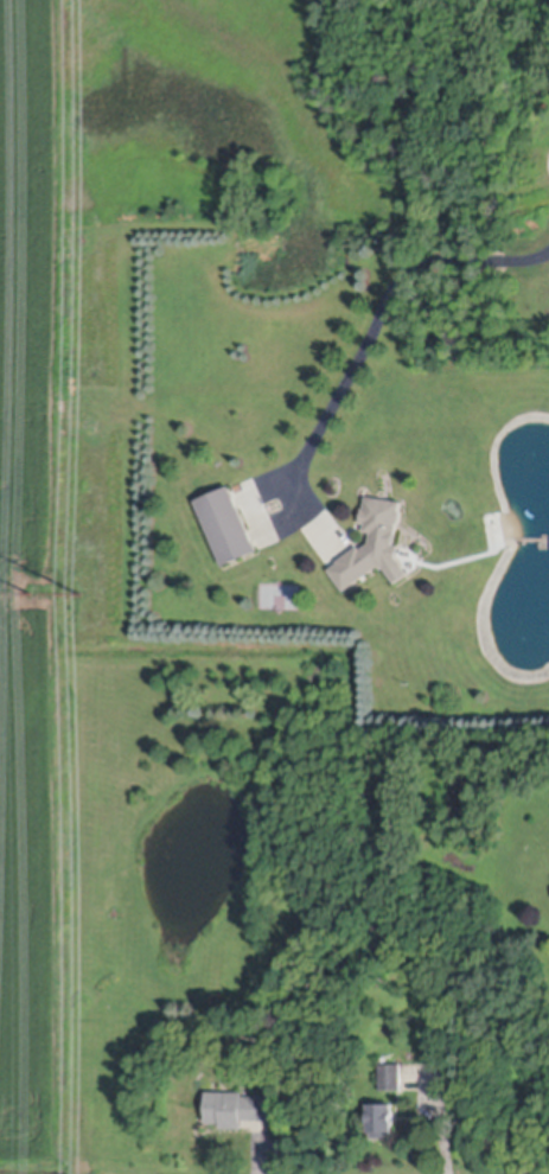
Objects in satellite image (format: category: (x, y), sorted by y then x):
road: (384, 325)
building: (228, 518)
building: (375, 538)
power tower: (82, 593)
power tower: (26, 595)
building: (391, 1073)
building: (237, 1105)
building: (381, 1116)
road: (436, 1122)

